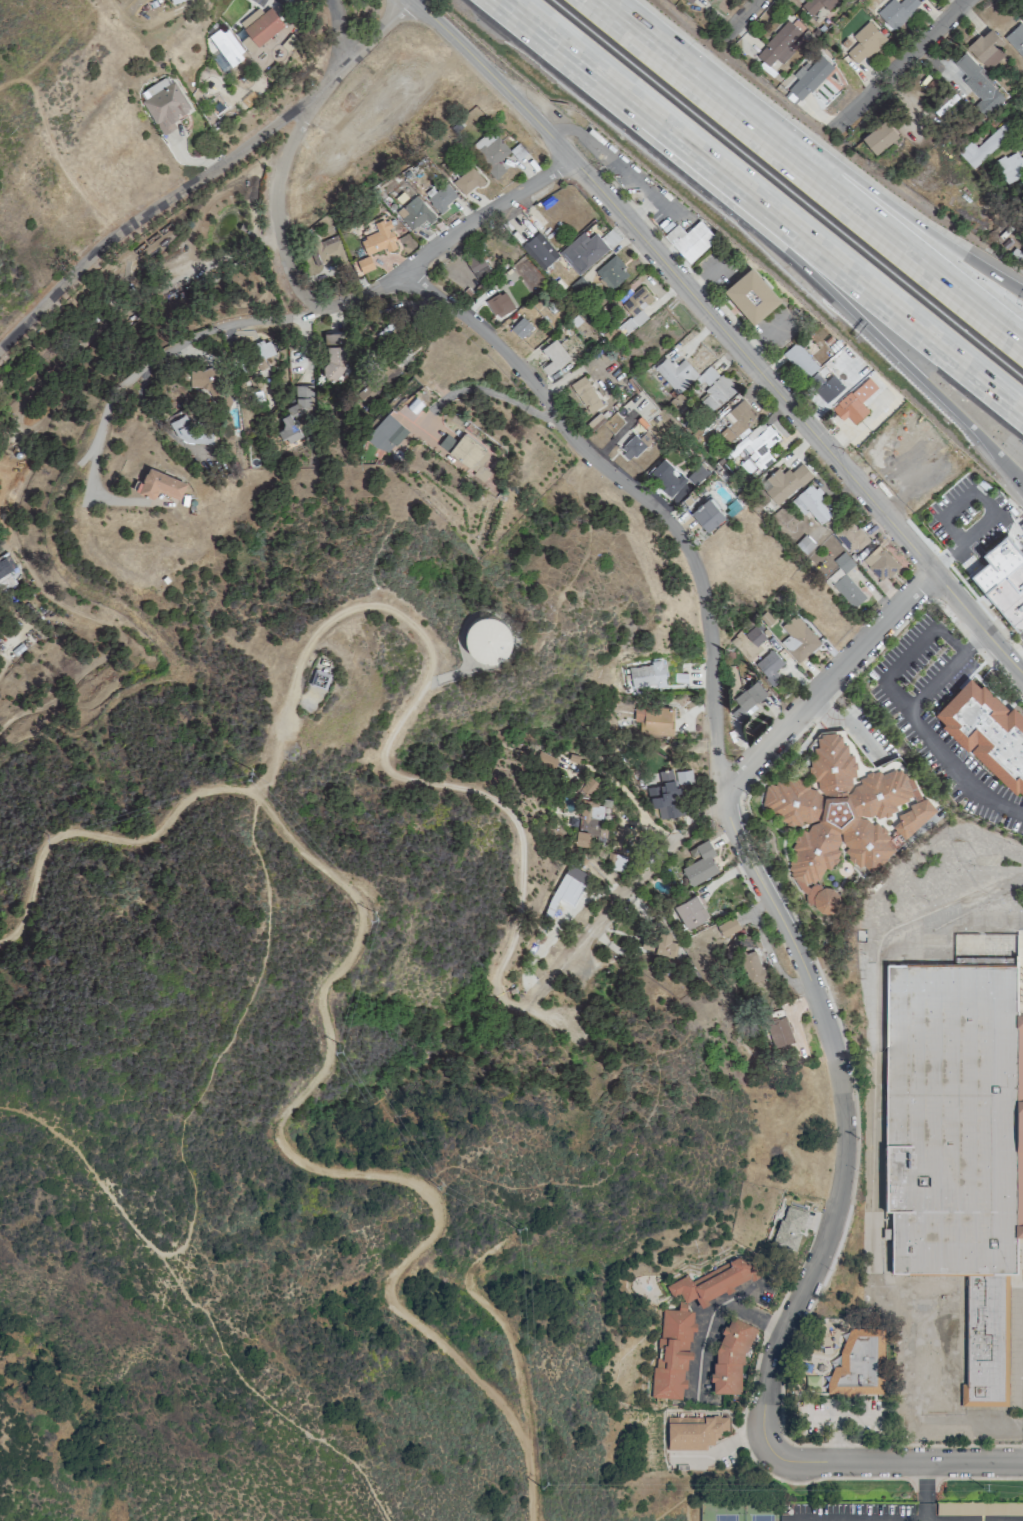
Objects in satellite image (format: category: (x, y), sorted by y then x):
building: (687, 0)
building: (174, 1)
building: (816, 5)
road: (745, 8)
building: (896, 11)
building: (258, 27)
road: (340, 28)
road: (537, 36)
building: (1016, 38)
building: (865, 42)
building: (778, 44)
building: (226, 46)
building: (986, 48)
road: (655, 50)
road: (902, 60)
road: (492, 76)
building: (806, 80)
building: (978, 83)
building: (163, 104)
building: (879, 136)
building: (984, 145)
building: (490, 150)
road: (237, 151)
road: (54, 154)
building: (1008, 167)
building: (467, 180)
road: (873, 192)
building: (441, 197)
road: (274, 202)
building: (413, 213)
road: (870, 223)
building: (379, 238)
building: (688, 239)
road: (801, 246)
building: (327, 249)
building: (539, 250)
building: (582, 251)
building: (362, 264)
building: (477, 266)
road: (808, 269)
building: (611, 272)
building: (751, 293)
building: (499, 304)
building: (634, 309)
road: (298, 315)
road: (29, 320)
building: (520, 327)
building: (262, 351)
building: (334, 354)
building: (552, 356)
building: (799, 359)
building: (675, 373)
building: (208, 382)
building: (828, 385)
building: (714, 387)
road: (486, 388)
building: (585, 394)
building: (853, 401)
building: (294, 414)
road: (795, 417)
building: (736, 421)
building: (189, 433)
building: (386, 433)
building: (635, 444)
building: (759, 444)
building: (465, 452)
building: (696, 473)
building: (666, 477)
building: (784, 482)
building: (160, 483)
building: (810, 503)
building: (707, 514)
building: (849, 536)
road: (962, 541)
building: (843, 562)
building: (879, 563)
building: (1003, 578)
building: (5, 581)
building: (848, 590)
road: (983, 606)
road: (145, 628)
building: (754, 635)
building: (485, 638)
storage tank: (485, 638)
building: (798, 638)
road: (908, 654)
building: (769, 666)
building: (647, 675)
building: (318, 678)
building: (746, 700)
building: (653, 718)
road: (922, 729)
building: (986, 730)
road: (759, 752)
building: (548, 761)
road: (388, 771)
building: (669, 793)
building: (842, 814)
building: (595, 817)
building: (581, 837)
building: (619, 837)
building: (616, 862)
building: (700, 864)
building: (563, 894)
building: (689, 911)
building: (727, 926)
road: (785, 932)
building: (657, 943)
building: (750, 966)
road: (839, 1028)
building: (776, 1029)
road: (231, 1036)
road: (330, 1053)
building: (954, 1144)
road: (90, 1169)
building: (789, 1228)
building: (712, 1282)
road: (714, 1321)
road: (505, 1330)
building: (672, 1353)
building: (730, 1357)
building: (857, 1364)
road: (262, 1399)
building: (693, 1431)
road: (707, 1472)
road: (888, 1477)
road: (925, 1490)
building: (979, 1508)
road: (857, 1518)

